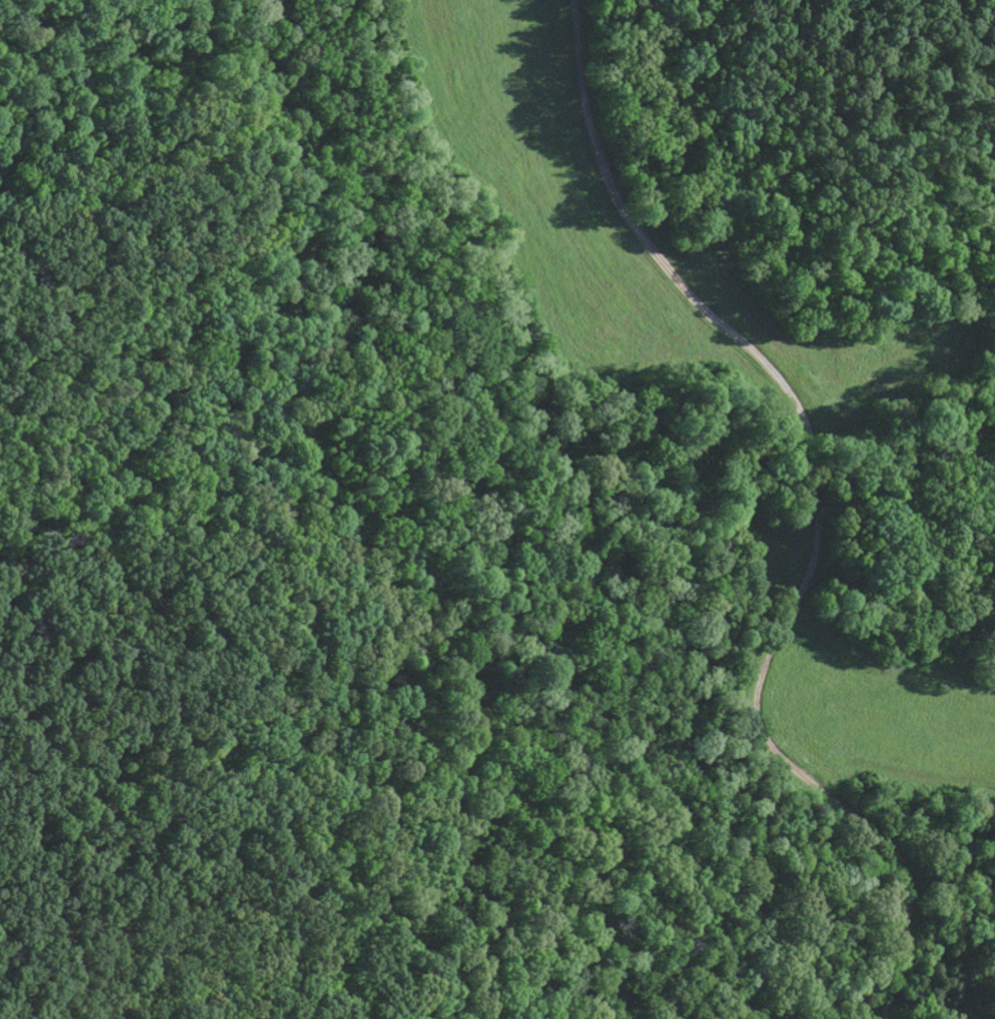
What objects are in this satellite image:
road: (813, 517)

